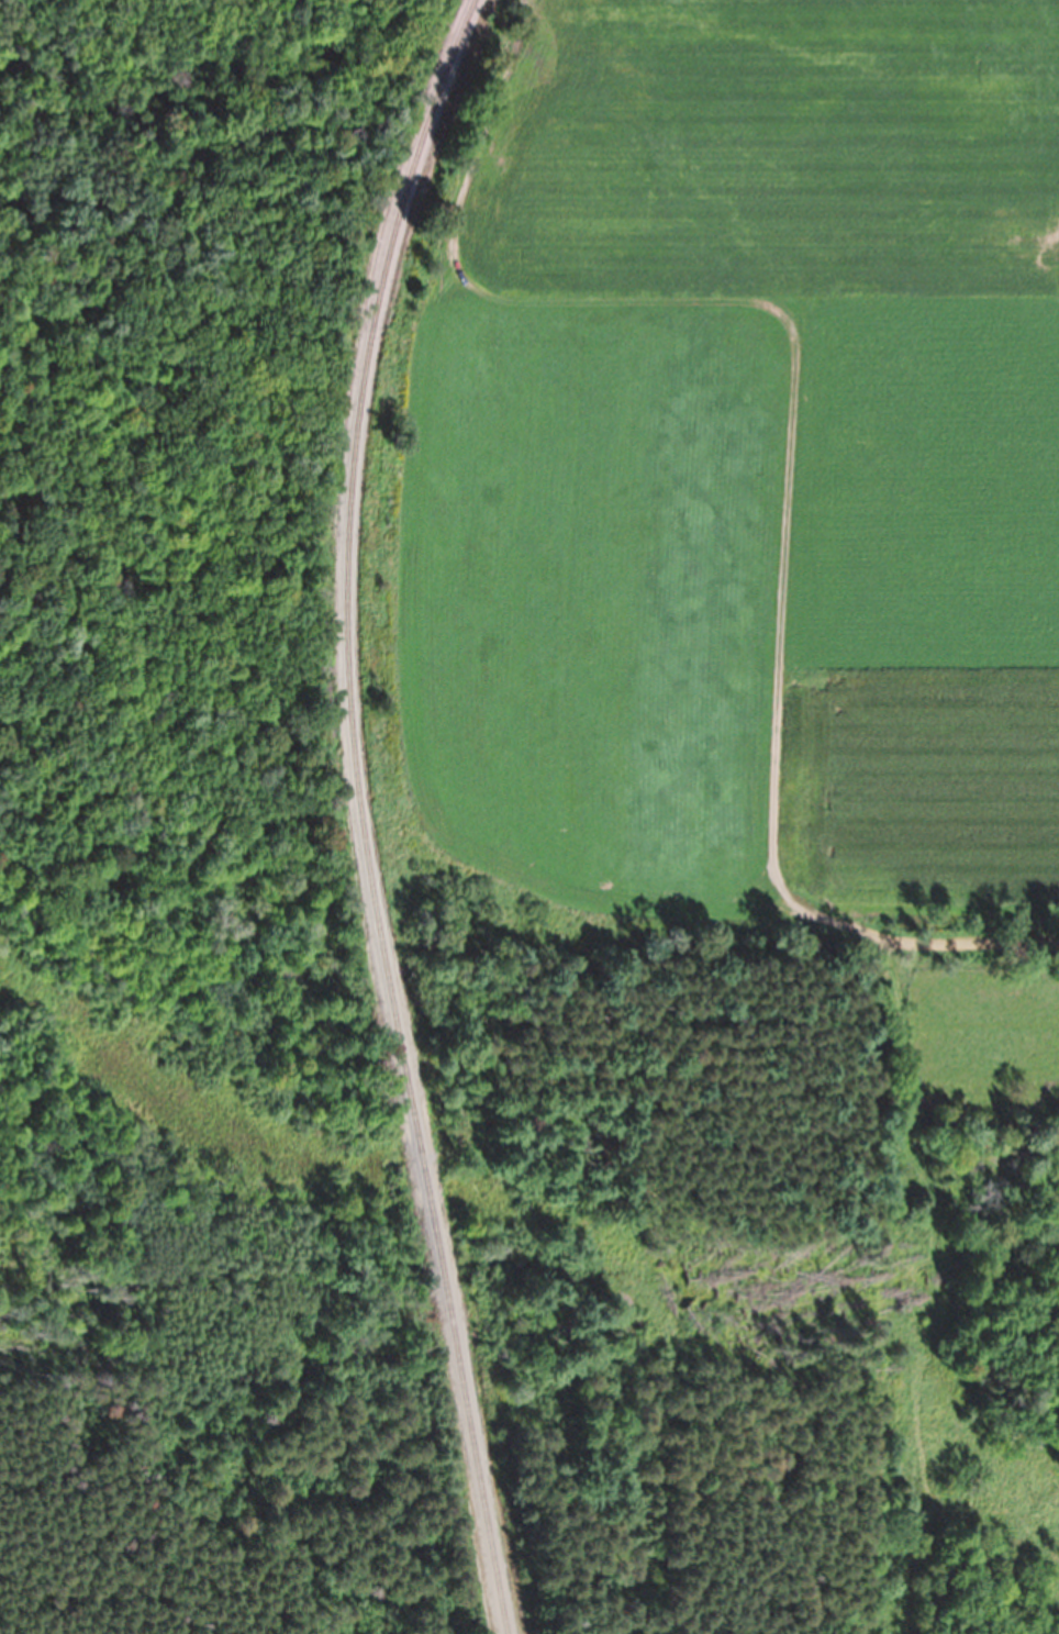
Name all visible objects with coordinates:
railway: (358, 814)
road: (966, 936)

